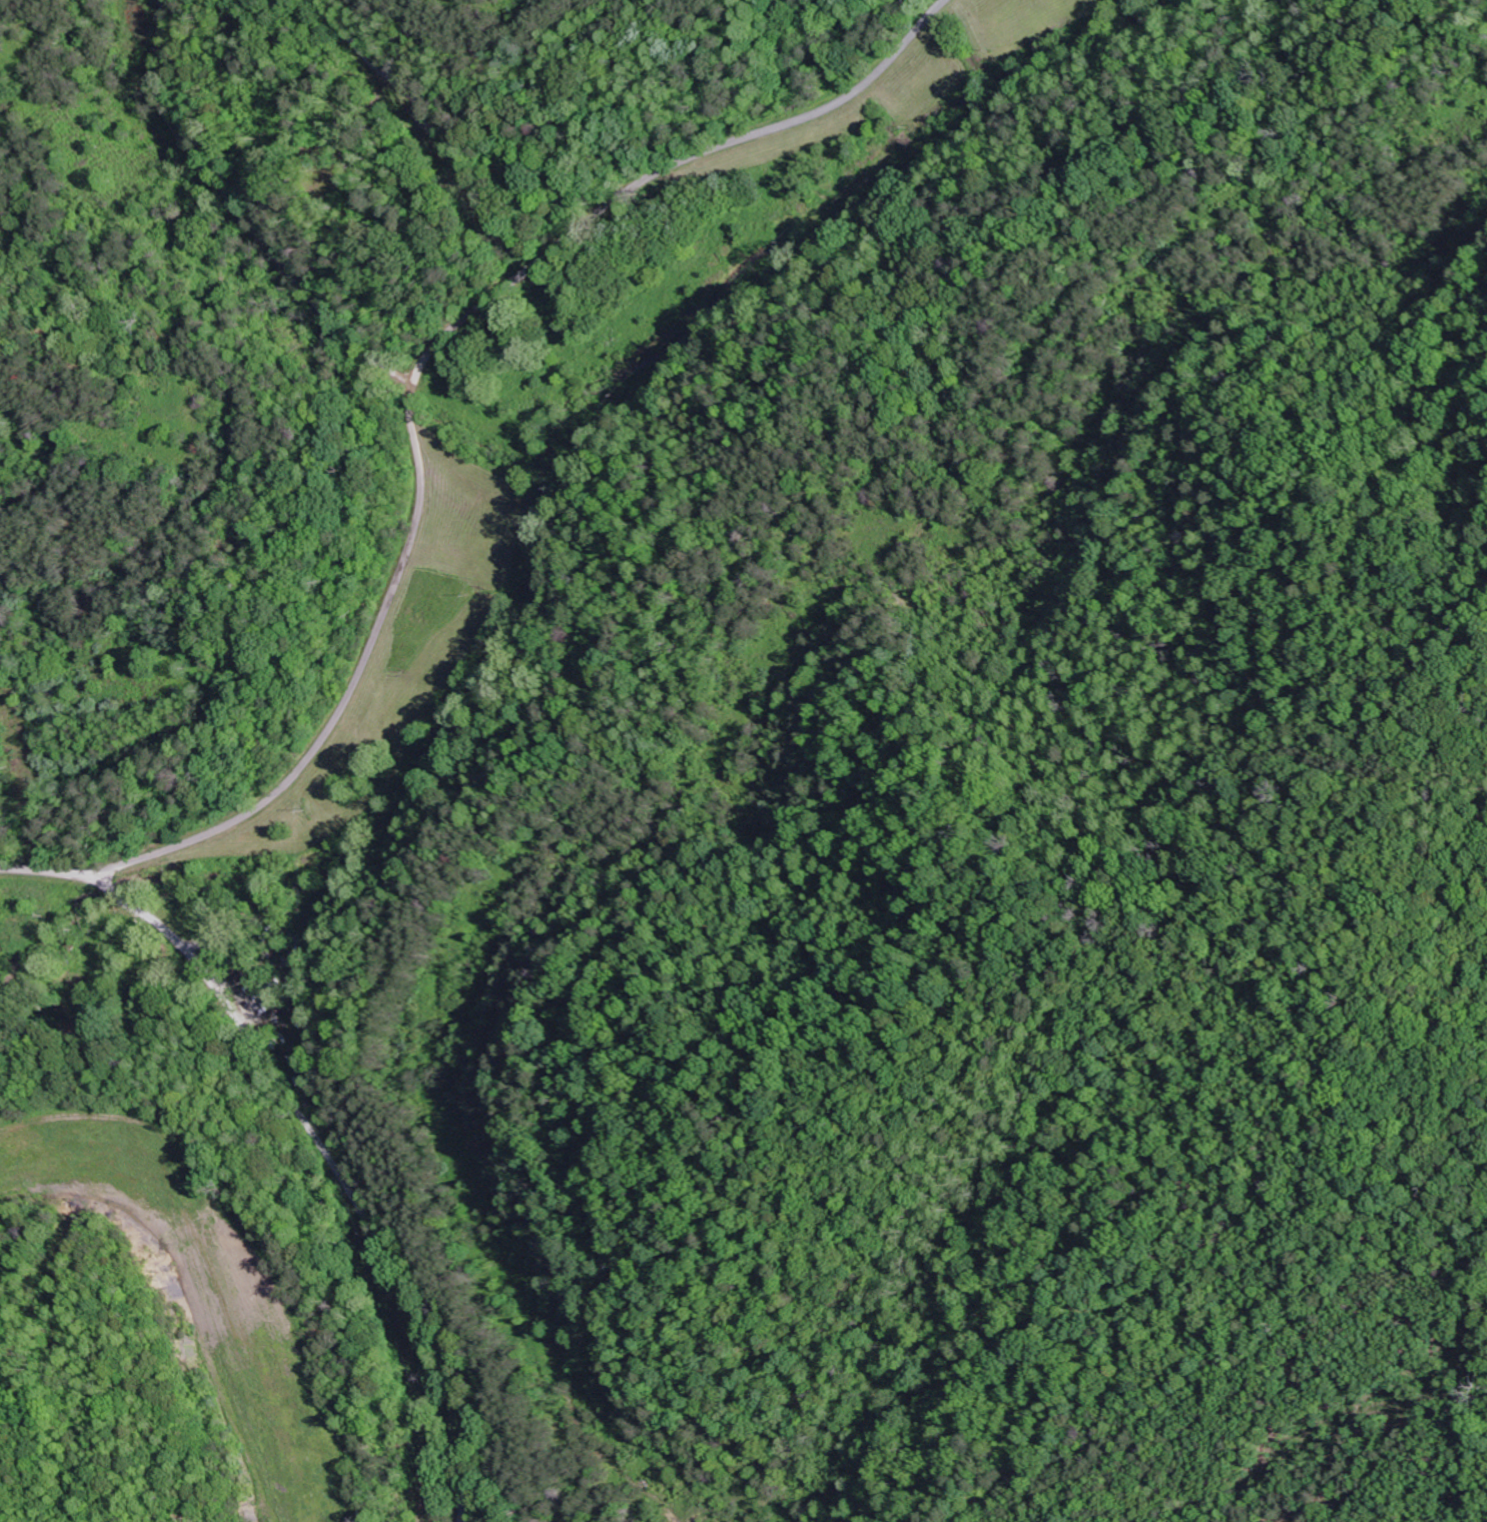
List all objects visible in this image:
road: (916, 32)
road: (422, 462)
road: (100, 562)
road: (97, 888)
road: (344, 1188)

